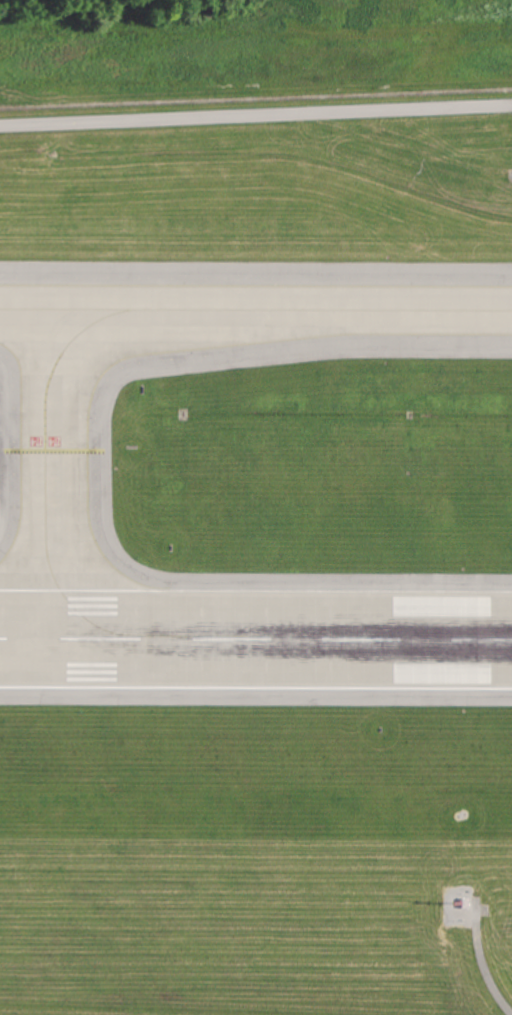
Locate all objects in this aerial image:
road: (255, 109)
airport taxiway: (255, 313)
airport taxiway: (61, 474)
airport: (256, 555)
airport runway: (255, 637)
road: (478, 972)

